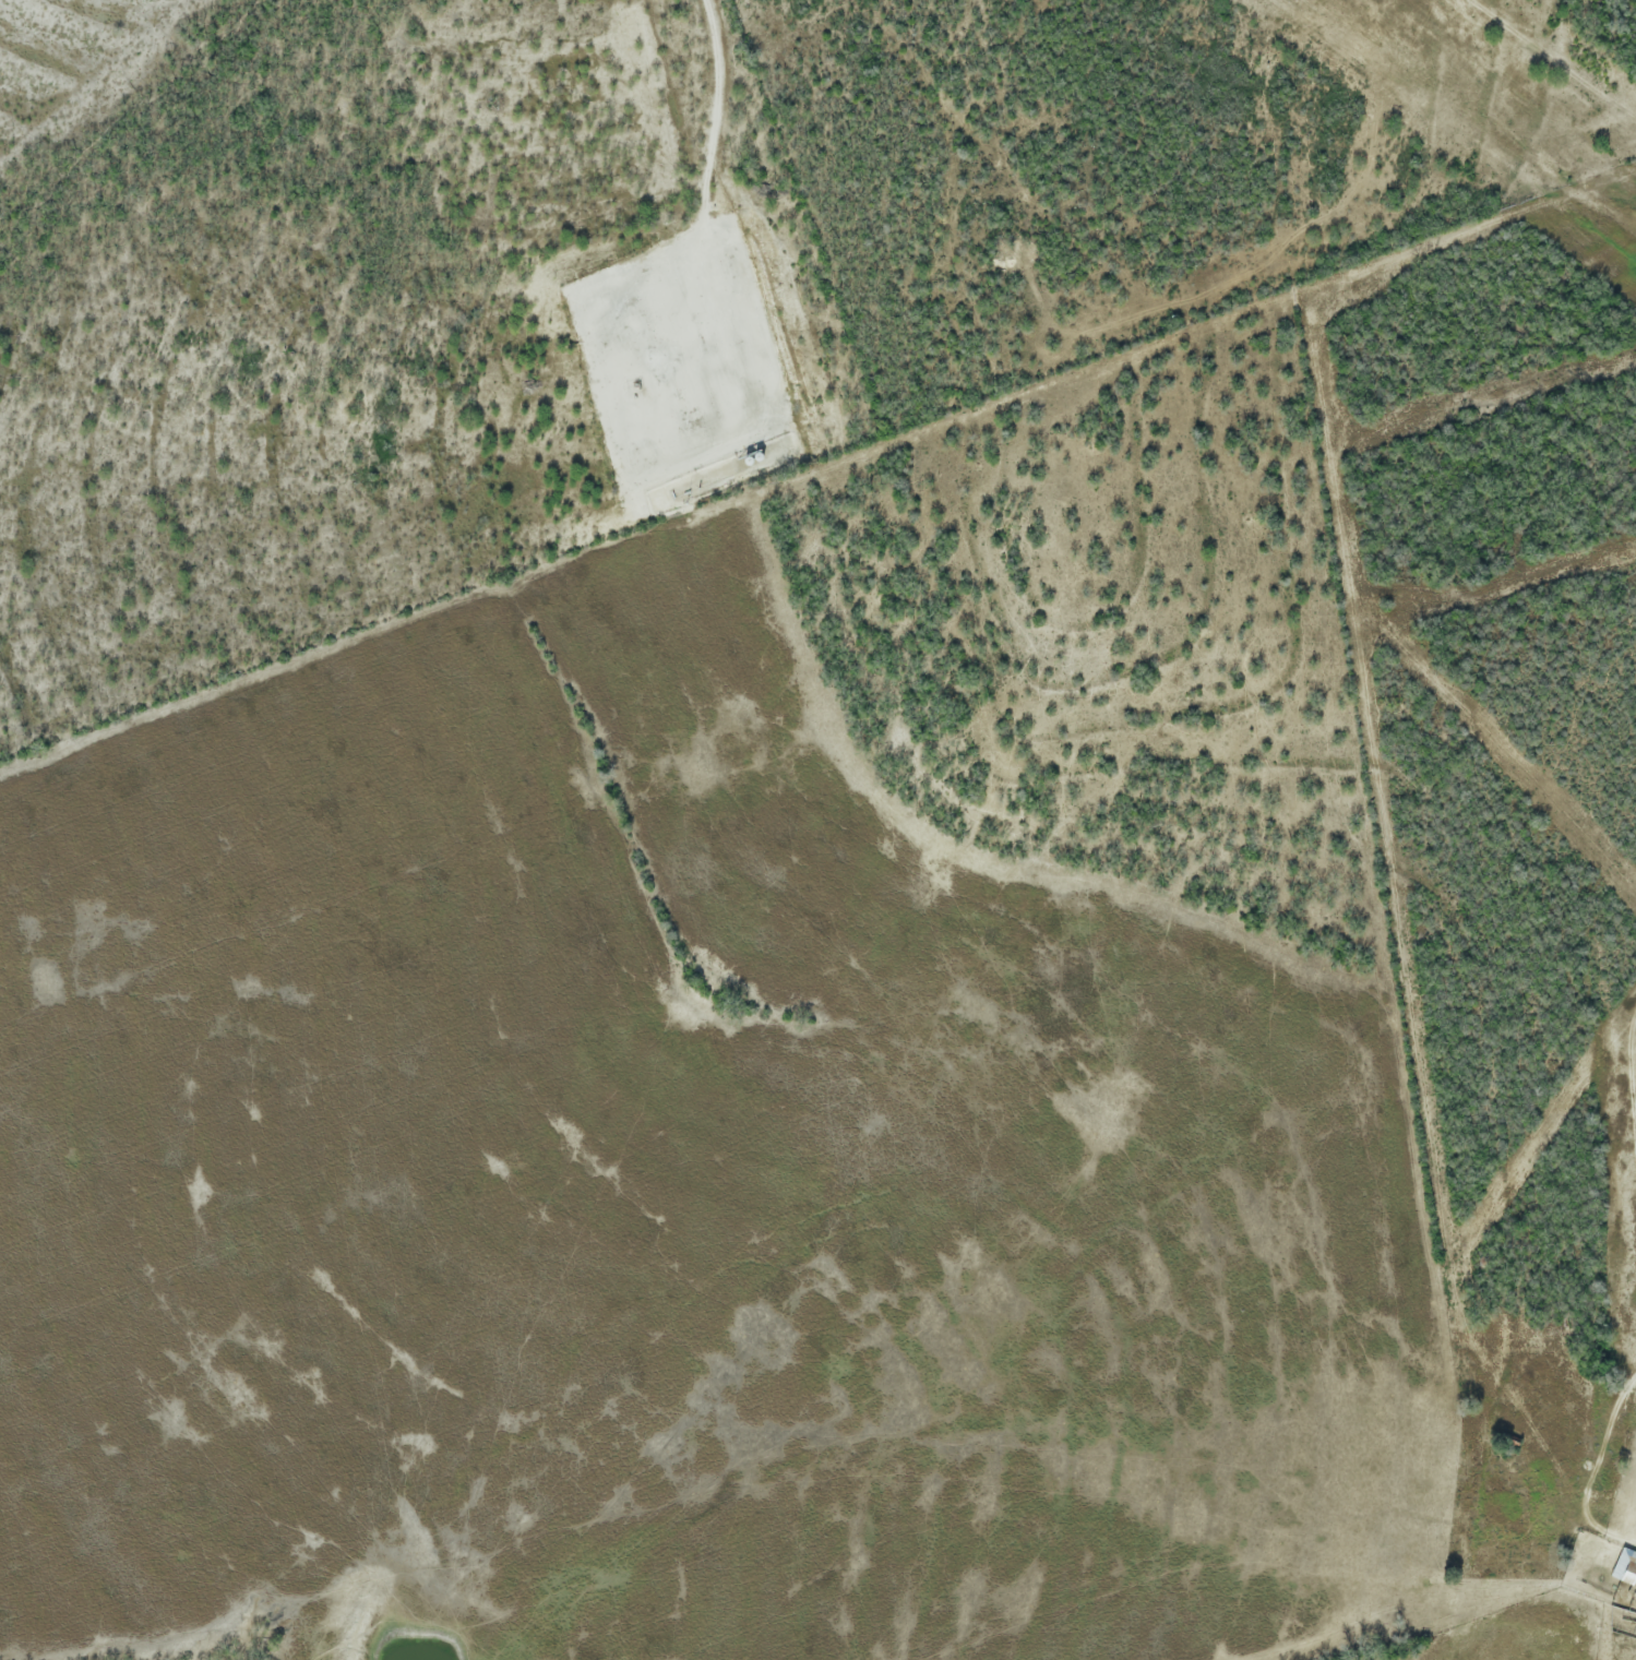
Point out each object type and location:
building: (1624, 1566)

